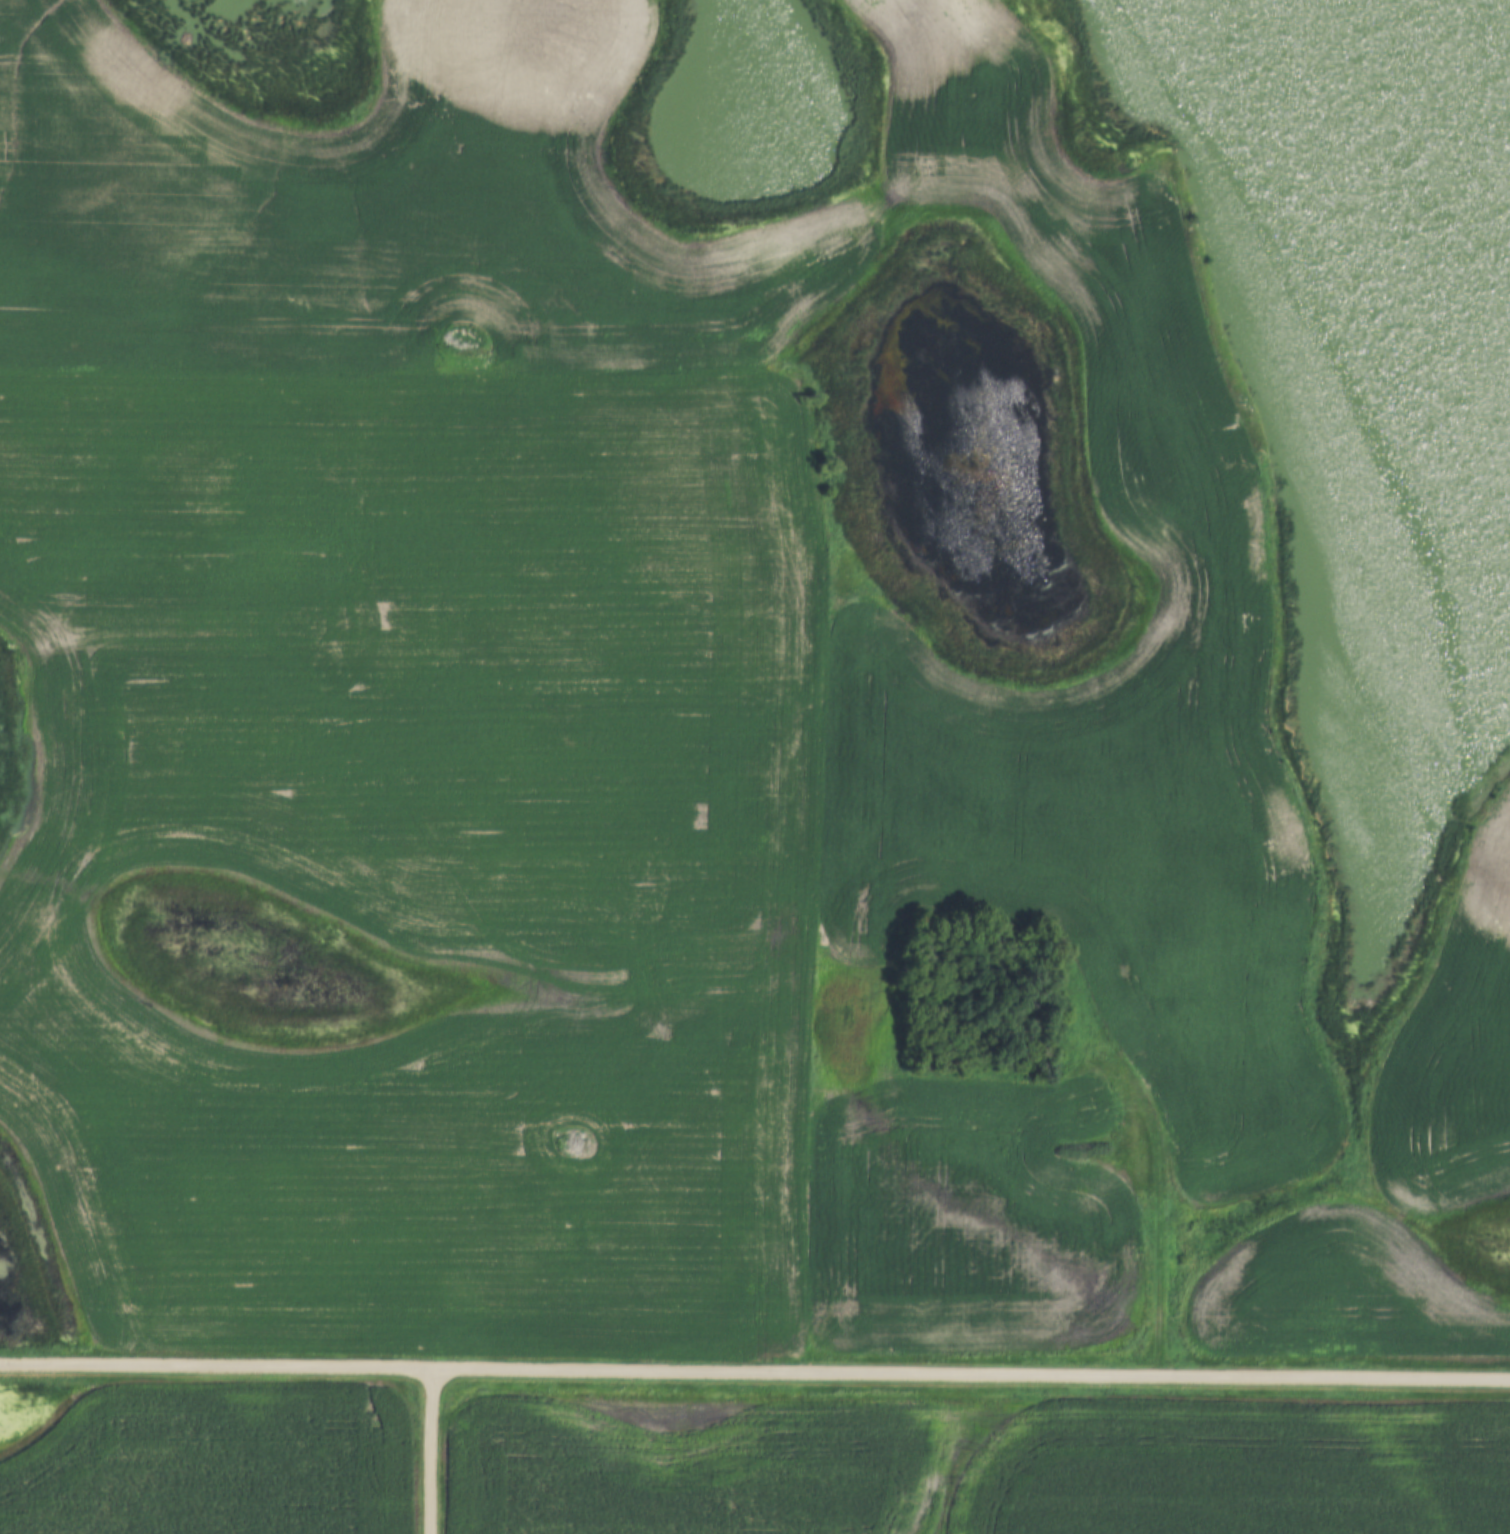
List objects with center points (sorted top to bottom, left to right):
building: (1164, 1049)
building: (1086, 1118)
road: (755, 1375)
road: (435, 1453)

